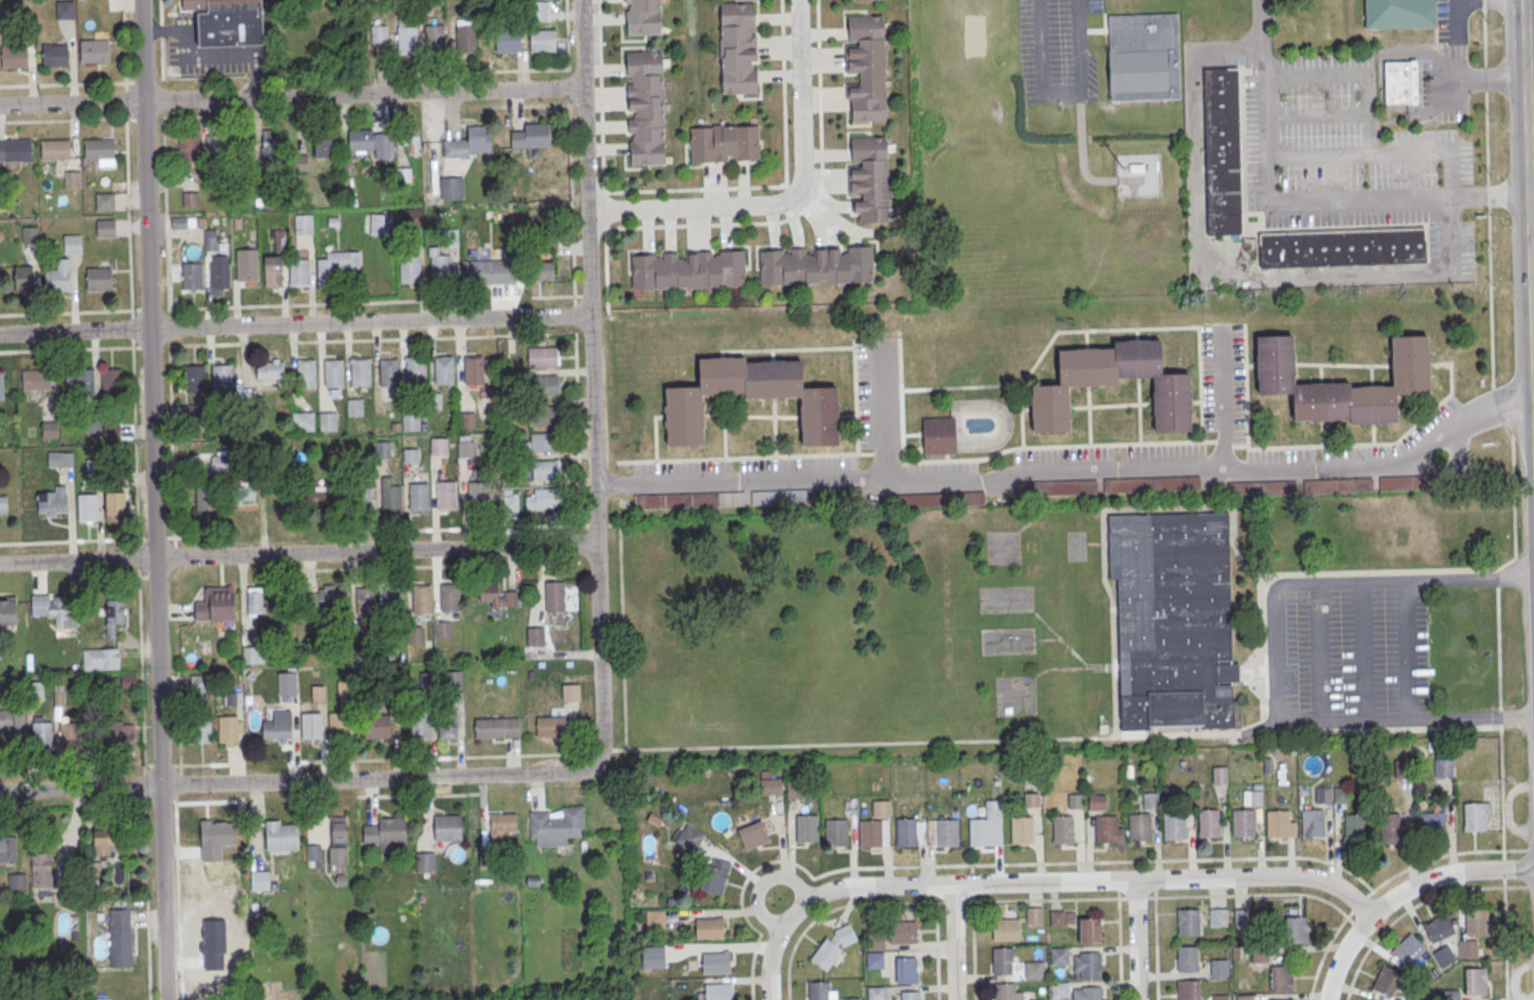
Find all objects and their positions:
building: (66, 10)
building: (539, 10)
building: (1399, 14)
building: (642, 17)
building: (227, 22)
road: (1260, 25)
building: (379, 33)
building: (435, 38)
building: (466, 39)
building: (407, 40)
building: (508, 41)
building: (543, 41)
building: (737, 47)
building: (94, 51)
parking lot: (1057, 51)
building: (14, 55)
building: (55, 55)
road: (211, 55)
building: (1144, 57)
building: (866, 67)
road: (1459, 70)
road: (1353, 75)
building: (1400, 82)
road: (80, 83)
road: (1060, 95)
road: (291, 96)
road: (600, 96)
building: (645, 108)
road: (1528, 129)
building: (532, 136)
building: (268, 141)
building: (414, 141)
building: (323, 142)
building: (371, 143)
building: (724, 143)
building: (468, 144)
building: (100, 148)
building: (188, 148)
building: (216, 148)
building: (56, 150)
road: (127, 150)
road: (1081, 150)
building: (15, 151)
building: (1222, 151)
building: (1135, 166)
building: (869, 178)
building: (73, 180)
road: (784, 183)
building: (452, 189)
road: (788, 197)
building: (190, 198)
road: (1372, 199)
building: (105, 202)
road: (807, 204)
road: (603, 209)
building: (414, 218)
building: (304, 224)
building: (380, 225)
building: (106, 228)
building: (32, 236)
building: (210, 239)
building: (450, 239)
building: (73, 244)
building: (1342, 247)
building: (247, 265)
building: (815, 265)
building: (335, 266)
building: (442, 268)
building: (409, 269)
road: (606, 269)
building: (687, 269)
road: (1526, 270)
building: (544, 271)
road: (1381, 271)
building: (273, 272)
building: (299, 272)
building: (488, 273)
building: (220, 275)
building: (59, 277)
building: (192, 277)
building: (24, 278)
building: (98, 279)
road: (294, 324)
road: (132, 328)
building: (542, 357)
building: (268, 368)
building: (416, 370)
building: (444, 370)
building: (474, 371)
building: (361, 372)
building: (334, 373)
building: (390, 373)
building: (306, 374)
building: (194, 378)
building: (222, 378)
parking lot: (1223, 378)
building: (36, 380)
building: (81, 381)
building: (112, 382)
road: (591, 383)
building: (1341, 383)
building: (544, 385)
building: (1, 387)
parking lot: (877, 391)
building: (749, 397)
road: (1224, 399)
building: (1170, 407)
building: (355, 409)
road: (885, 411)
building: (543, 417)
building: (411, 421)
building: (466, 421)
building: (303, 422)
building: (328, 422)
building: (91, 423)
building: (50, 431)
building: (112, 432)
building: (938, 435)
building: (545, 443)
building: (440, 447)
building: (466, 449)
building: (383, 450)
building: (412, 456)
building: (60, 460)
building: (219, 462)
building: (93, 467)
building: (547, 471)
road: (1070, 471)
building: (113, 479)
building: (1408, 482)
building: (1151, 484)
building: (1335, 485)
building: (1055, 487)
building: (1259, 488)
building: (243, 492)
building: (208, 495)
building: (447, 495)
building: (478, 495)
building: (318, 496)
building: (361, 496)
building: (391, 496)
building: (807, 496)
building: (419, 497)
building: (759, 497)
building: (548, 499)
building: (689, 499)
building: (941, 499)
road: (153, 500)
building: (510, 500)
building: (51, 502)
building: (3, 505)
building: (115, 506)
building: (87, 507)
road: (297, 553)
road: (1381, 582)
road: (139, 583)
road: (1277, 585)
building: (496, 595)
building: (555, 597)
building: (450, 598)
building: (255, 600)
building: (325, 600)
building: (393, 600)
building: (422, 600)
building: (366, 601)
building: (216, 605)
road: (1403, 607)
building: (8, 611)
building: (53, 611)
building: (113, 616)
building: (1173, 619)
building: (444, 630)
road: (1498, 634)
building: (415, 636)
building: (536, 636)
building: (362, 644)
building: (389, 648)
parking lot: (1347, 651)
road: (1319, 653)
building: (251, 656)
building: (101, 659)
building: (454, 679)
building: (427, 680)
building: (129, 682)
building: (287, 683)
building: (198, 684)
building: (345, 688)
building: (34, 691)
building: (395, 693)
building: (570, 694)
building: (318, 695)
building: (232, 698)
road: (1470, 717)
building: (12, 720)
building: (421, 725)
building: (278, 726)
building: (311, 726)
building: (338, 726)
building: (448, 726)
building: (377, 727)
building: (551, 727)
building: (497, 728)
building: (228, 729)
building: (201, 730)
building: (116, 735)
building: (42, 736)
building: (70, 736)
road: (296, 761)
building: (1312, 765)
building: (1443, 767)
building: (1401, 768)
building: (1219, 774)
road: (297, 780)
building: (770, 784)
building: (1322, 794)
building: (1341, 794)
building: (1252, 797)
building: (1150, 799)
building: (1096, 801)
building: (1476, 815)
building: (1209, 822)
building: (1242, 822)
building: (1311, 822)
building: (1432, 822)
building: (1279, 823)
building: (502, 825)
building: (1174, 825)
building: (1138, 826)
building: (557, 827)
building: (806, 827)
building: (1353, 827)
building: (1389, 827)
building: (447, 828)
building: (1062, 828)
building: (1105, 828)
building: (1021, 829)
building: (386, 831)
building: (905, 831)
building: (980, 831)
building: (836, 832)
building: (869, 832)
building: (946, 832)
building: (753, 834)
building: (689, 836)
building: (281, 837)
building: (338, 839)
building: (106, 841)
building: (7, 849)
building: (314, 853)
road: (1451, 853)
building: (488, 859)
road: (1083, 861)
building: (426, 863)
building: (41, 870)
building: (94, 871)
building: (715, 876)
road: (1075, 881)
building: (17, 883)
road: (1402, 892)
road: (1037, 899)
road: (178, 901)
road: (1416, 904)
building: (1034, 915)
building: (1241, 917)
building: (1057, 918)
building: (1217, 918)
building: (654, 919)
building: (1476, 921)
building: (1187, 922)
road: (749, 924)
building: (708, 927)
building: (1438, 928)
building: (1005, 929)
building: (1296, 929)
building: (1089, 930)
building: (903, 933)
building: (120, 938)
building: (875, 940)
road: (1137, 940)
road: (953, 942)
road: (1505, 943)
building: (832, 947)
road: (1326, 947)
road: (1120, 948)
road: (1156, 948)
building: (1467, 948)
building: (1408, 949)
road: (149, 950)
road: (973, 950)
road: (937, 951)
building: (1058, 955)
building: (1259, 955)
building: (653, 958)
building: (1187, 958)
building: (874, 959)
building: (1001, 960)
building: (716, 961)
road: (770, 963)
building: (1088, 964)
building: (1218, 968)
building: (904, 969)
building: (1033, 969)
building: (1281, 978)
building: (1386, 980)
building: (1475, 980)
building: (1060, 989)
building: (1187, 989)
building: (818, 990)
building: (718, 991)
building: (1004, 991)
building: (876, 993)
building: (1088, 993)
building: (910, 995)
building: (1220, 997)
building: (851, 998)
building: (1245, 998)
building: (1281, 999)

